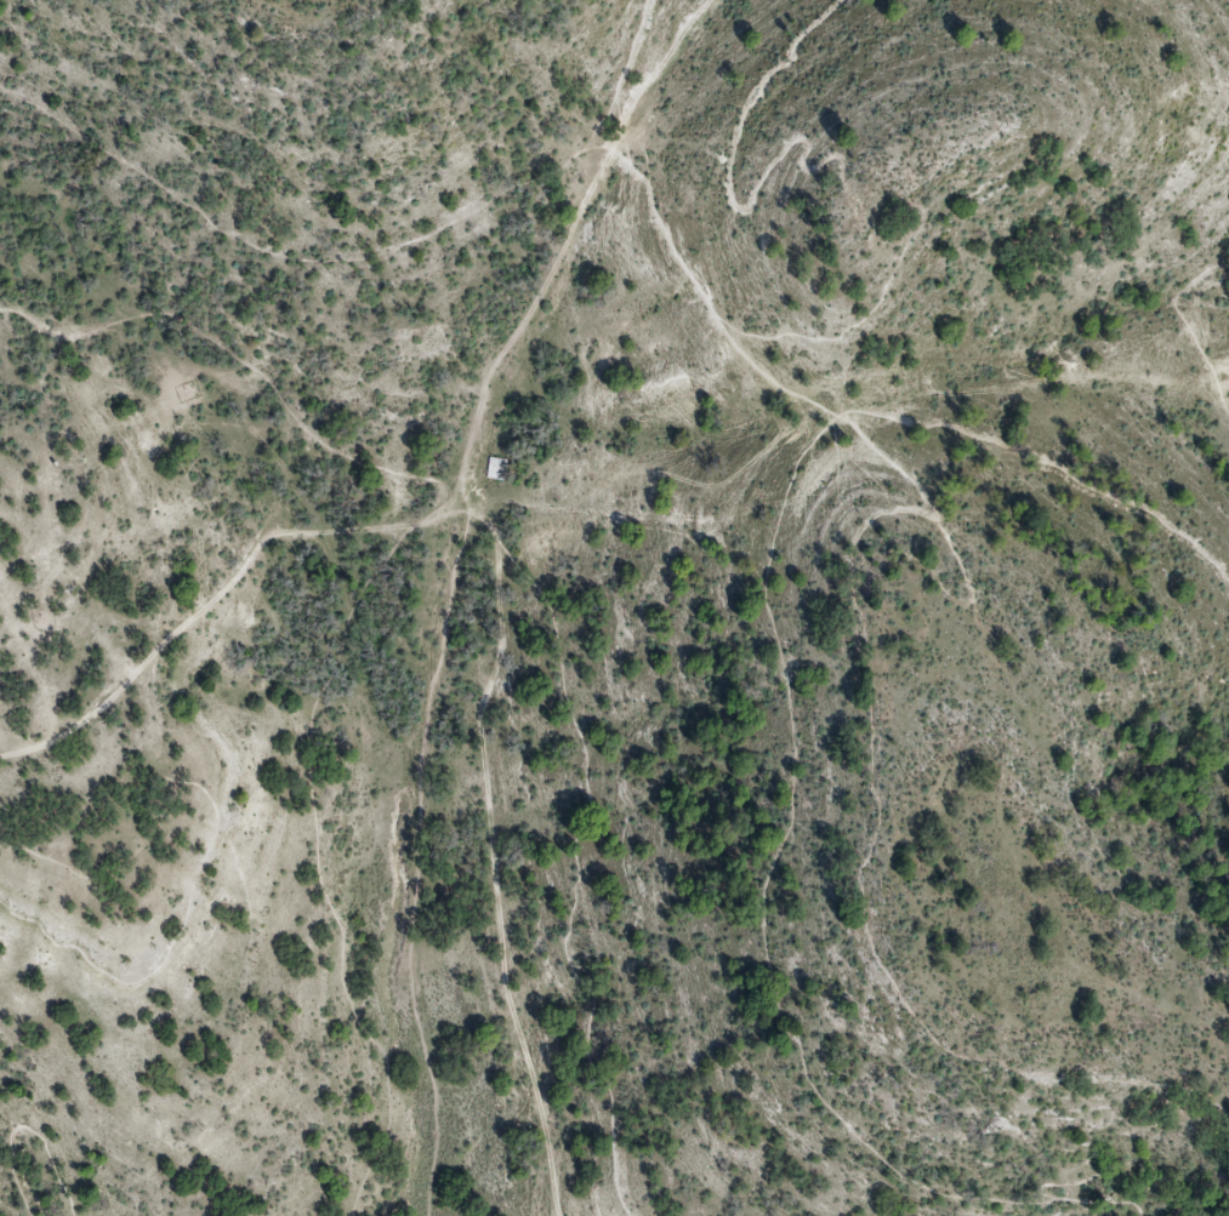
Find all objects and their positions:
road: (288, 258)
building: (495, 468)
road: (522, 563)
road: (217, 594)
road: (830, 604)
road: (206, 847)
road: (577, 851)
road: (761, 877)
road: (24, 1127)
road: (1080, 1181)

